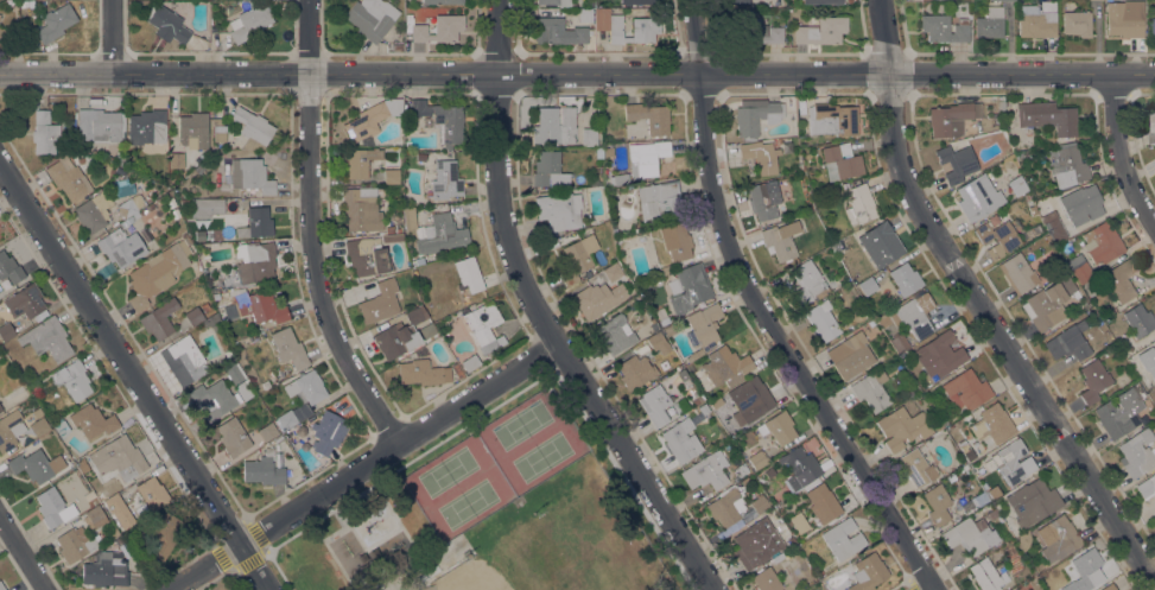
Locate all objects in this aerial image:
building: (1002, 0)
building: (442, 1)
building: (636, 1)
building: (821, 1)
building: (554, 2)
building: (590, 2)
building: (736, 2)
building: (994, 11)
building: (584, 15)
building: (370, 18)
building: (1124, 19)
building: (56, 23)
building: (248, 23)
building: (1036, 24)
building: (1075, 24)
building: (167, 25)
building: (988, 27)
building: (1151, 27)
building: (437, 28)
building: (633, 28)
building: (943, 28)
building: (557, 31)
building: (820, 31)
building: (751, 32)
building: (2, 36)
road: (110, 36)
building: (396, 47)
road: (577, 72)
road: (598, 93)
road: (799, 93)
building: (420, 107)
building: (755, 116)
building: (648, 118)
building: (1048, 118)
building: (370, 119)
building: (832, 119)
building: (951, 119)
building: (448, 125)
building: (554, 125)
building: (97, 126)
building: (146, 127)
building: (252, 128)
building: (1151, 129)
building: (192, 131)
building: (44, 132)
building: (220, 133)
road: (1134, 135)
building: (589, 137)
road: (1122, 150)
building: (761, 156)
building: (420, 157)
building: (646, 158)
building: (799, 159)
building: (119, 160)
building: (176, 160)
building: (358, 161)
building: (957, 163)
building: (840, 164)
building: (545, 166)
building: (1066, 166)
building: (198, 167)
road: (924, 172)
building: (250, 176)
building: (391, 177)
building: (68, 178)
building: (620, 179)
building: (445, 180)
building: (1017, 185)
building: (977, 197)
building: (659, 201)
building: (762, 201)
building: (1081, 204)
building: (131, 205)
building: (861, 205)
building: (150, 207)
building: (205, 208)
building: (361, 209)
building: (1033, 210)
building: (94, 211)
building: (142, 211)
building: (557, 211)
building: (408, 218)
building: (129, 220)
building: (256, 223)
building: (1053, 226)
building: (389, 229)
road: (310, 231)
building: (145, 234)
building: (440, 234)
building: (998, 235)
building: (392, 237)
building: (780, 240)
building: (675, 241)
building: (1102, 243)
building: (880, 245)
building: (120, 247)
building: (367, 256)
building: (254, 261)
building: (575, 261)
building: (9, 268)
building: (1079, 268)
building: (158, 271)
building: (613, 272)
building: (1017, 272)
building: (468, 274)
building: (905, 279)
building: (1121, 281)
building: (806, 283)
building: (868, 286)
building: (688, 287)
building: (1075, 294)
building: (597, 299)
building: (24, 302)
building: (380, 302)
building: (1048, 304)
building: (204, 306)
building: (255, 306)
road: (981, 306)
building: (1108, 312)
road: (763, 313)
building: (912, 315)
building: (192, 316)
building: (413, 316)
road: (541, 316)
building: (159, 319)
building: (1140, 319)
building: (821, 321)
building: (214, 322)
building: (483, 325)
building: (704, 326)
building: (427, 330)
building: (668, 330)
building: (6, 331)
building: (615, 334)
building: (47, 338)
building: (395, 341)
building: (899, 342)
building: (659, 343)
building: (1067, 343)
building: (233, 345)
building: (288, 348)
building: (227, 353)
building: (850, 355)
building: (939, 355)
building: (183, 360)
building: (1148, 361)
building: (469, 362)
building: (725, 366)
building: (455, 368)
building: (635, 372)
building: (421, 373)
building: (233, 374)
building: (459, 374)
building: (683, 374)
road: (133, 375)
building: (74, 380)
building: (1092, 380)
building: (265, 385)
building: (306, 387)
building: (965, 389)
building: (243, 391)
building: (870, 391)
building: (750, 398)
building: (1136, 398)
building: (697, 399)
building: (214, 400)
road: (501, 401)
building: (716, 402)
building: (662, 404)
building: (0, 407)
building: (704, 408)
building: (293, 415)
building: (93, 420)
building: (1112, 420)
building: (992, 424)
building: (937, 425)
building: (38, 426)
building: (61, 427)
building: (778, 427)
building: (902, 427)
building: (9, 429)
building: (267, 431)
building: (326, 432)
building: (233, 437)
building: (278, 439)
building: (681, 440)
building: (963, 445)
building: (1136, 453)
building: (118, 458)
building: (756, 458)
building: (1008, 461)
park: (496, 463)
building: (36, 465)
road: (363, 465)
building: (799, 467)
building: (916, 468)
building: (262, 469)
building: (741, 470)
building: (704, 472)
building: (1147, 487)
building: (100, 493)
building: (992, 493)
building: (89, 495)
building: (151, 496)
building: (115, 502)
building: (1032, 502)
building: (759, 505)
building: (821, 505)
building: (937, 505)
building: (969, 505)
building: (51, 507)
building: (725, 507)
building: (991, 514)
building: (97, 515)
park: (488, 516)
water park: (376, 525)
building: (113, 532)
building: (970, 535)
building: (104, 538)
building: (163, 538)
building: (461, 538)
building: (842, 539)
building: (1023, 539)
building: (1059, 539)
building: (119, 541)
building: (755, 543)
building: (76, 544)
building: (448, 546)
building: (467, 553)
road: (21, 554)
park: (554, 556)
park: (554, 556)
building: (1066, 559)
road: (433, 566)
building: (1083, 569)
building: (106, 570)
building: (868, 572)
building: (986, 575)
building: (766, 579)
road: (398, 585)
building: (1, 586)
building: (1109, 588)
road: (933, 589)
building: (1014, 589)
building: (1015, 589)

